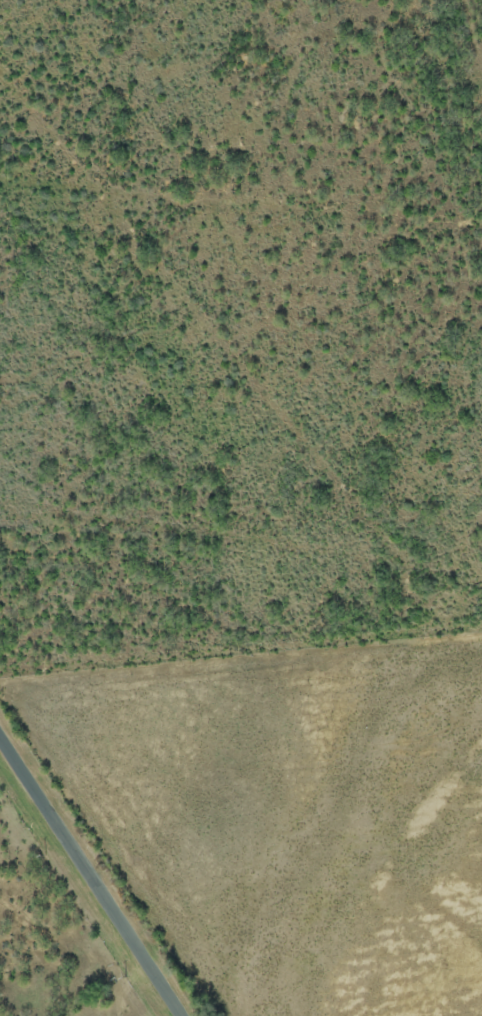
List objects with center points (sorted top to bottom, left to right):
road: (91, 879)

